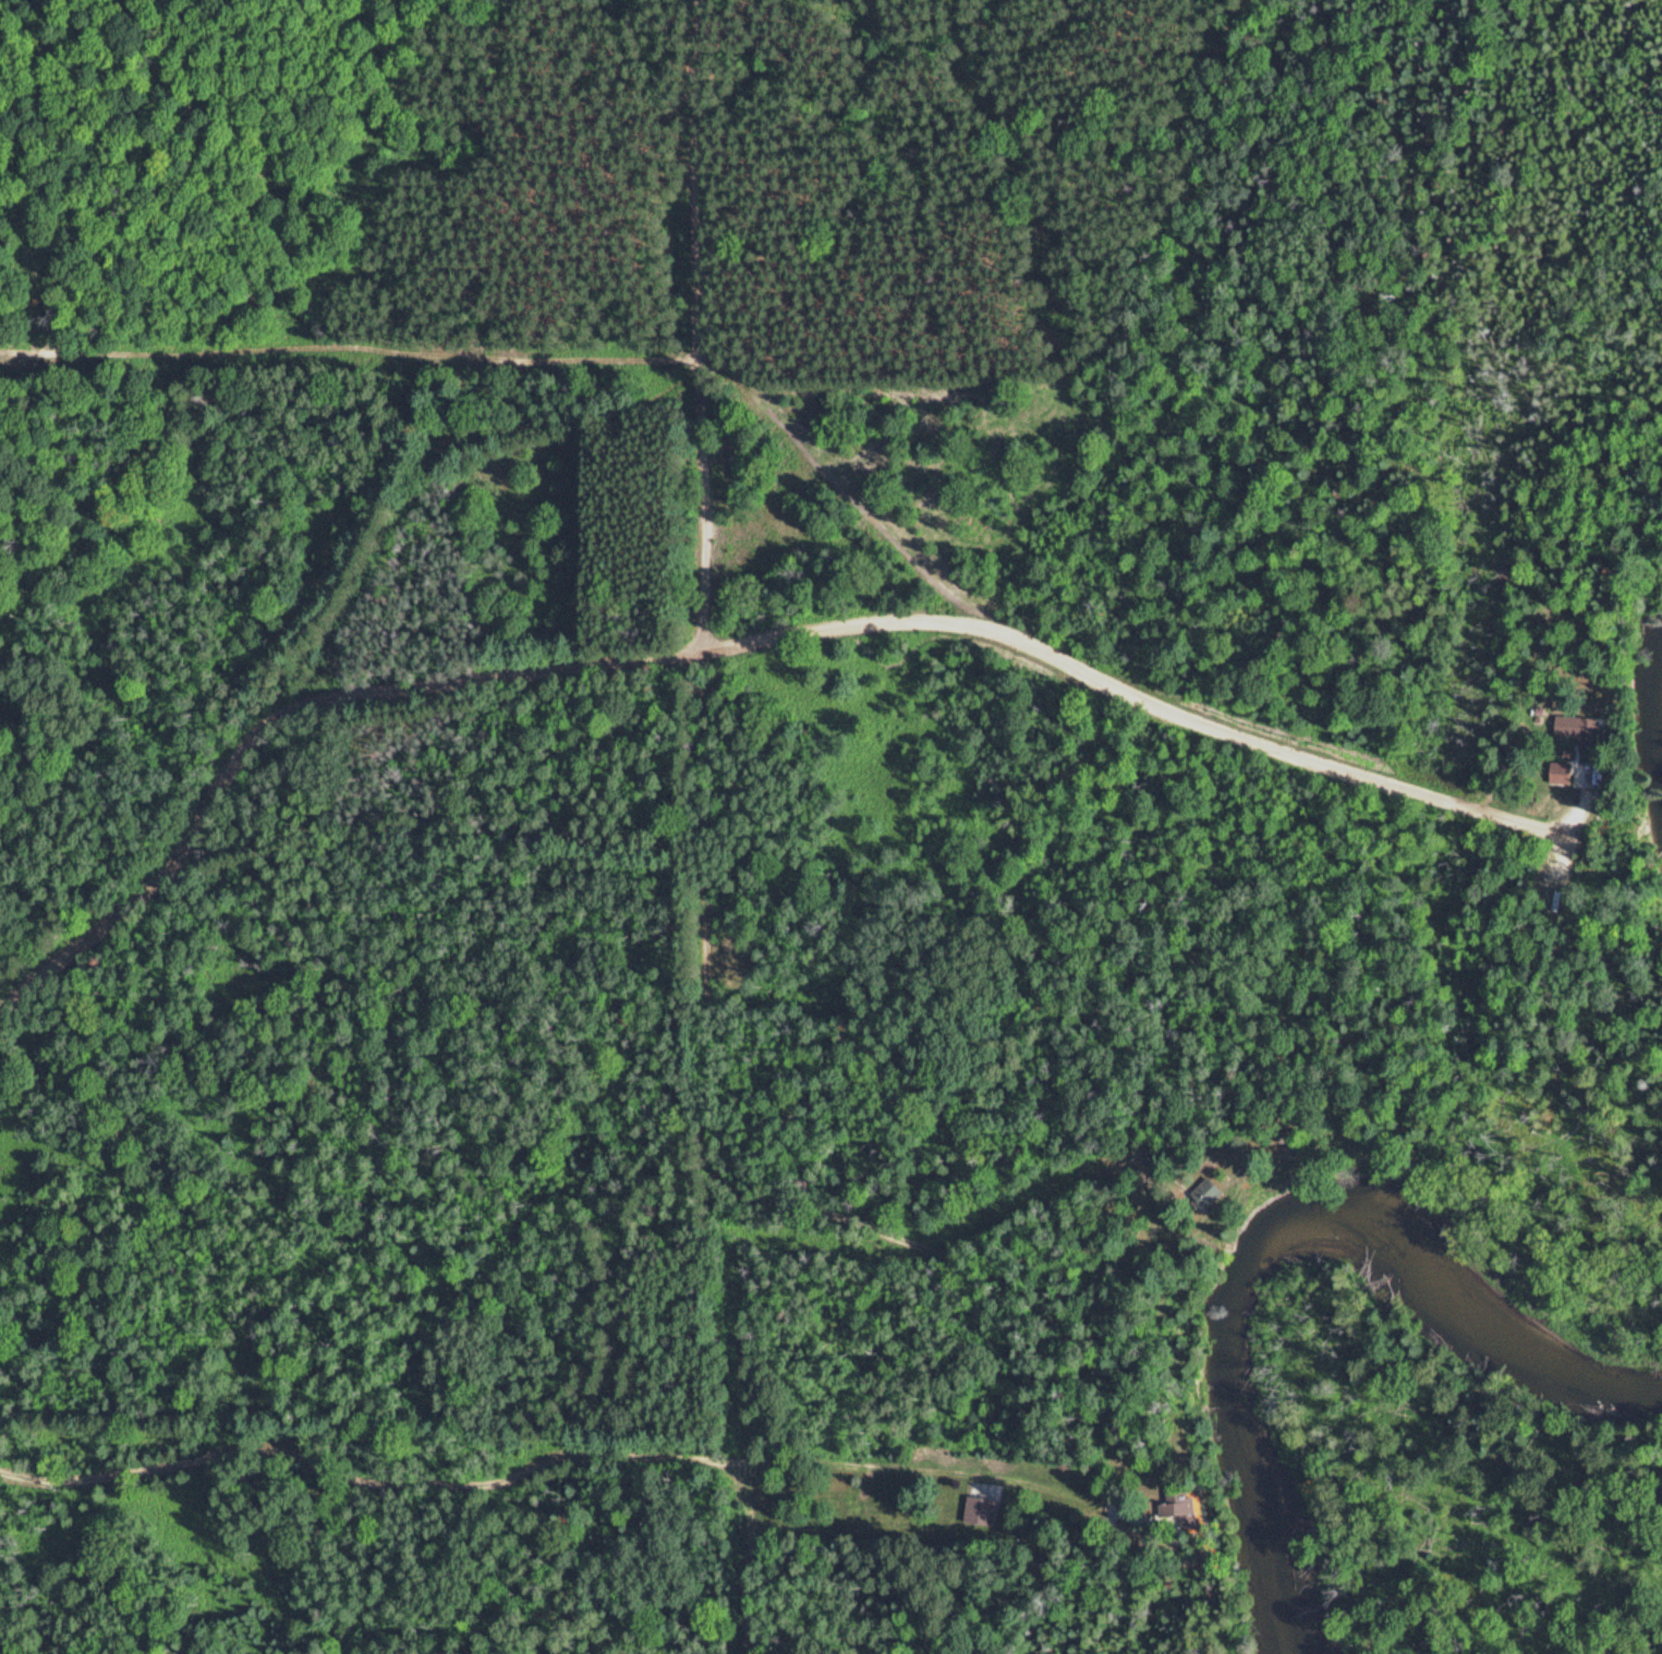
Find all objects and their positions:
road: (703, 327)
road: (430, 684)
building: (1586, 729)
road: (1278, 745)
building: (1512, 768)
building: (1565, 771)
road: (1591, 774)
road: (1574, 838)
road: (1275, 947)
road: (680, 1151)
building: (1213, 1190)
river: (1275, 1249)
road: (924, 1470)
road: (459, 1479)
building: (1185, 1506)
building: (982, 1510)

